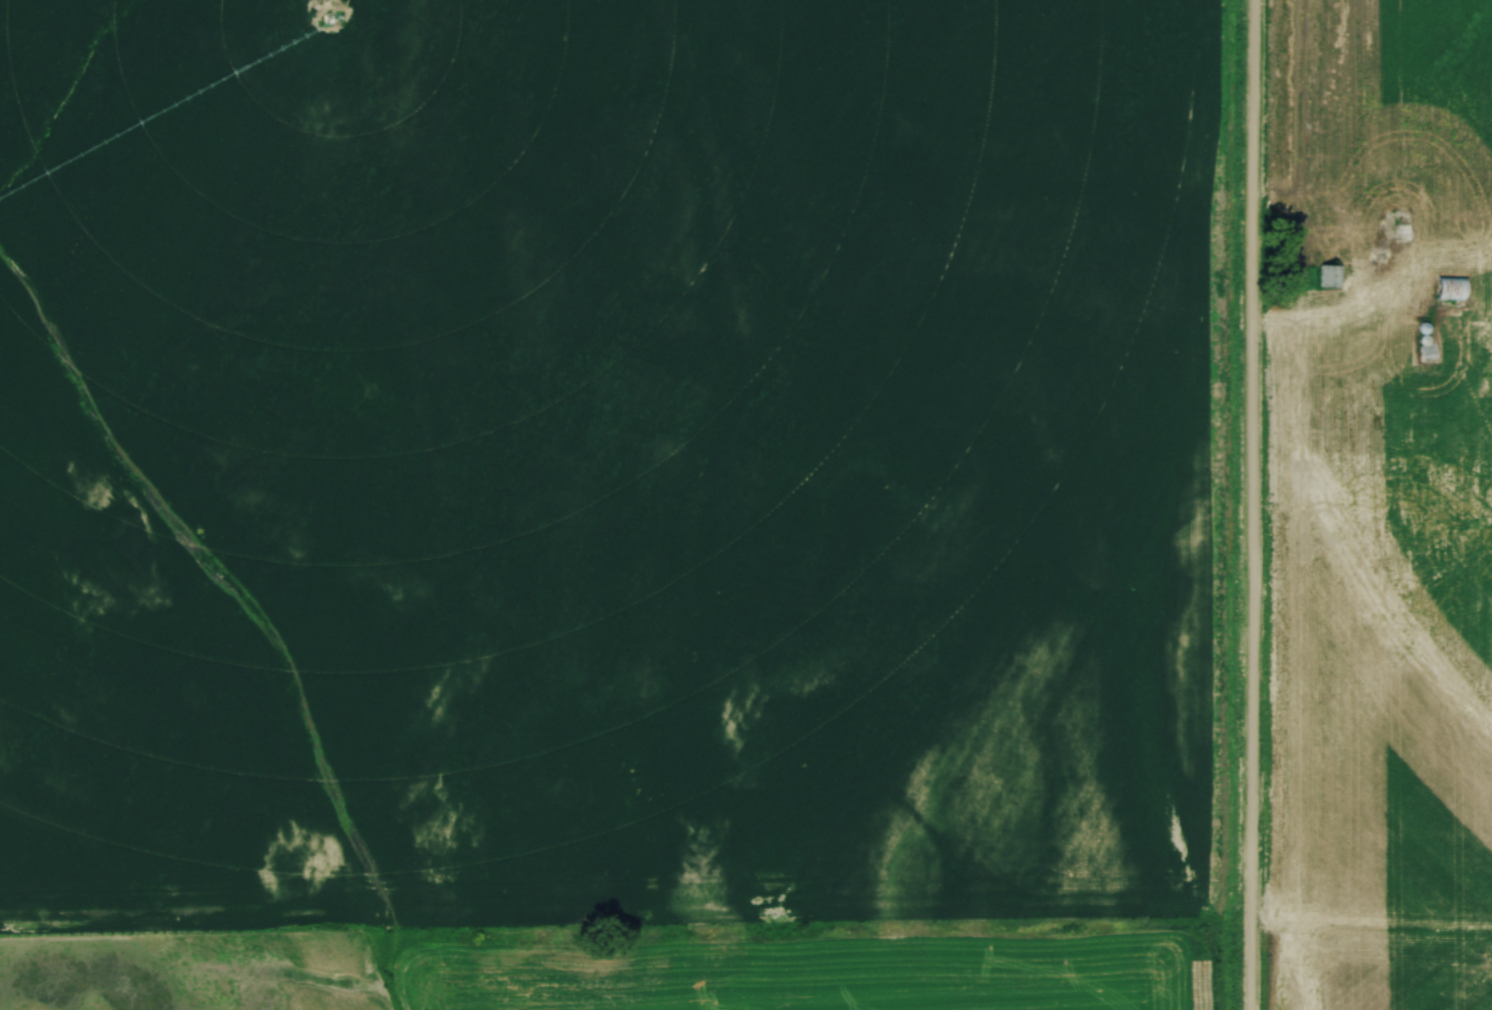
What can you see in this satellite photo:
building: (1328, 276)
building: (1449, 289)
road: (1253, 505)

